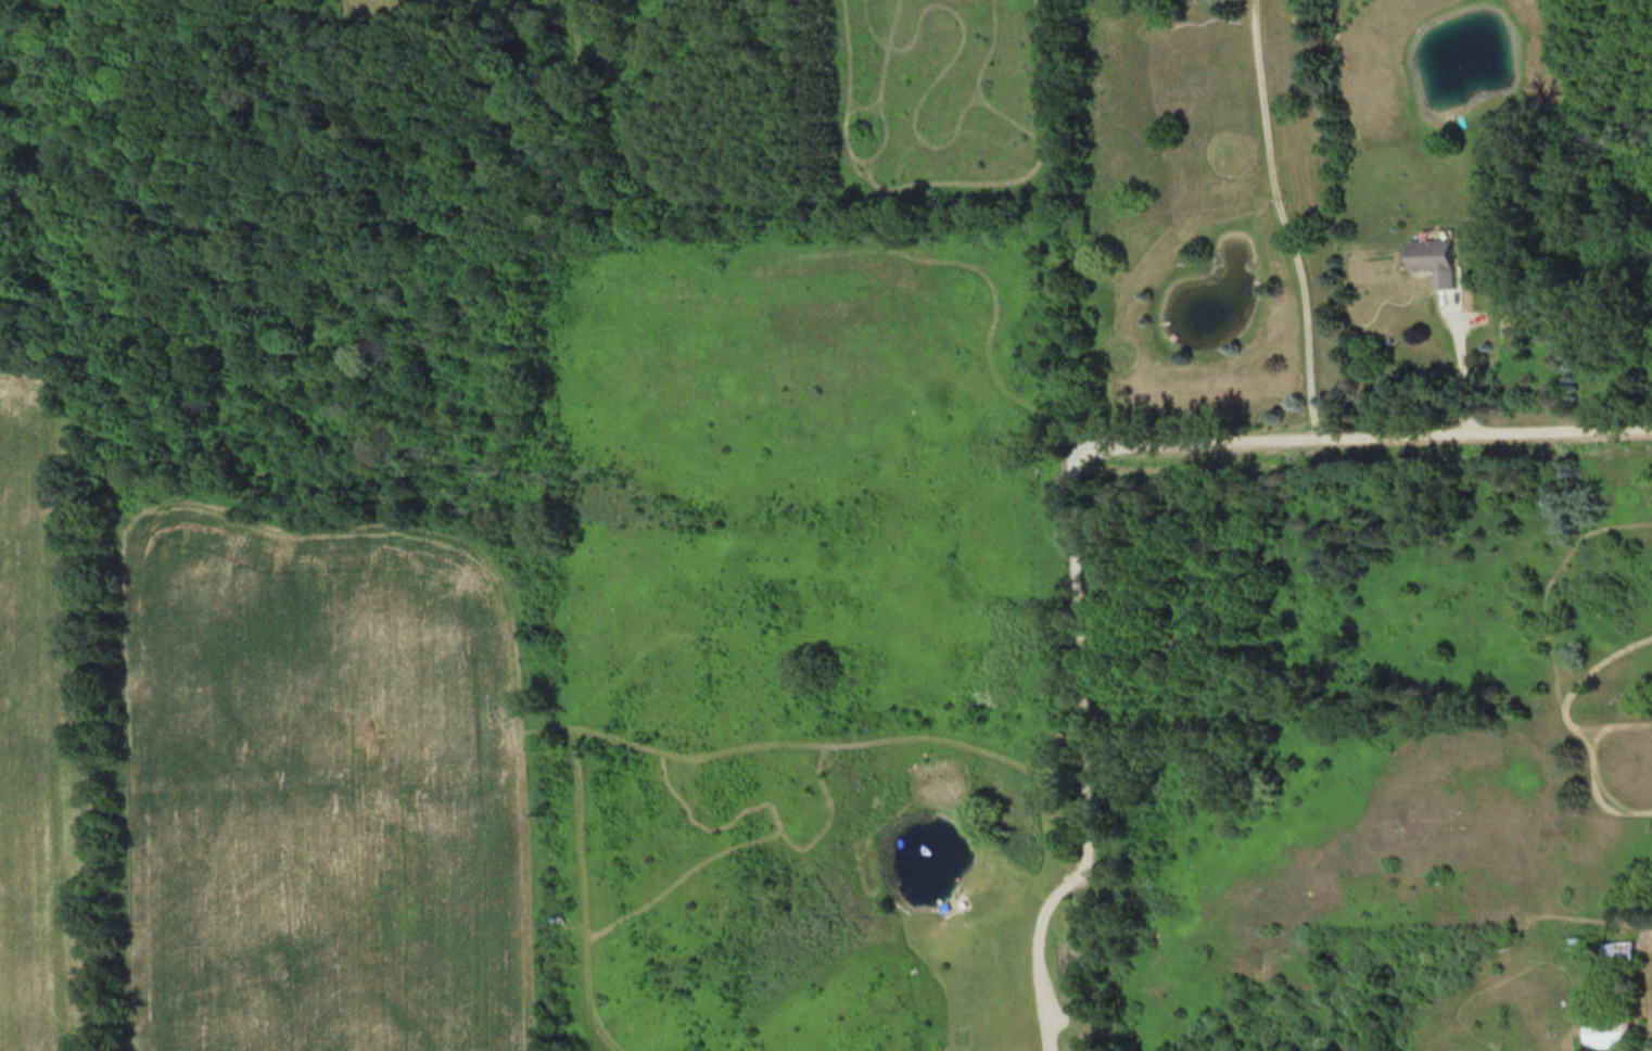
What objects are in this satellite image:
road: (1274, 216)
building: (1433, 259)
road: (1460, 365)
road: (1377, 428)
road: (1078, 746)
building: (1625, 952)
building: (1618, 1029)

